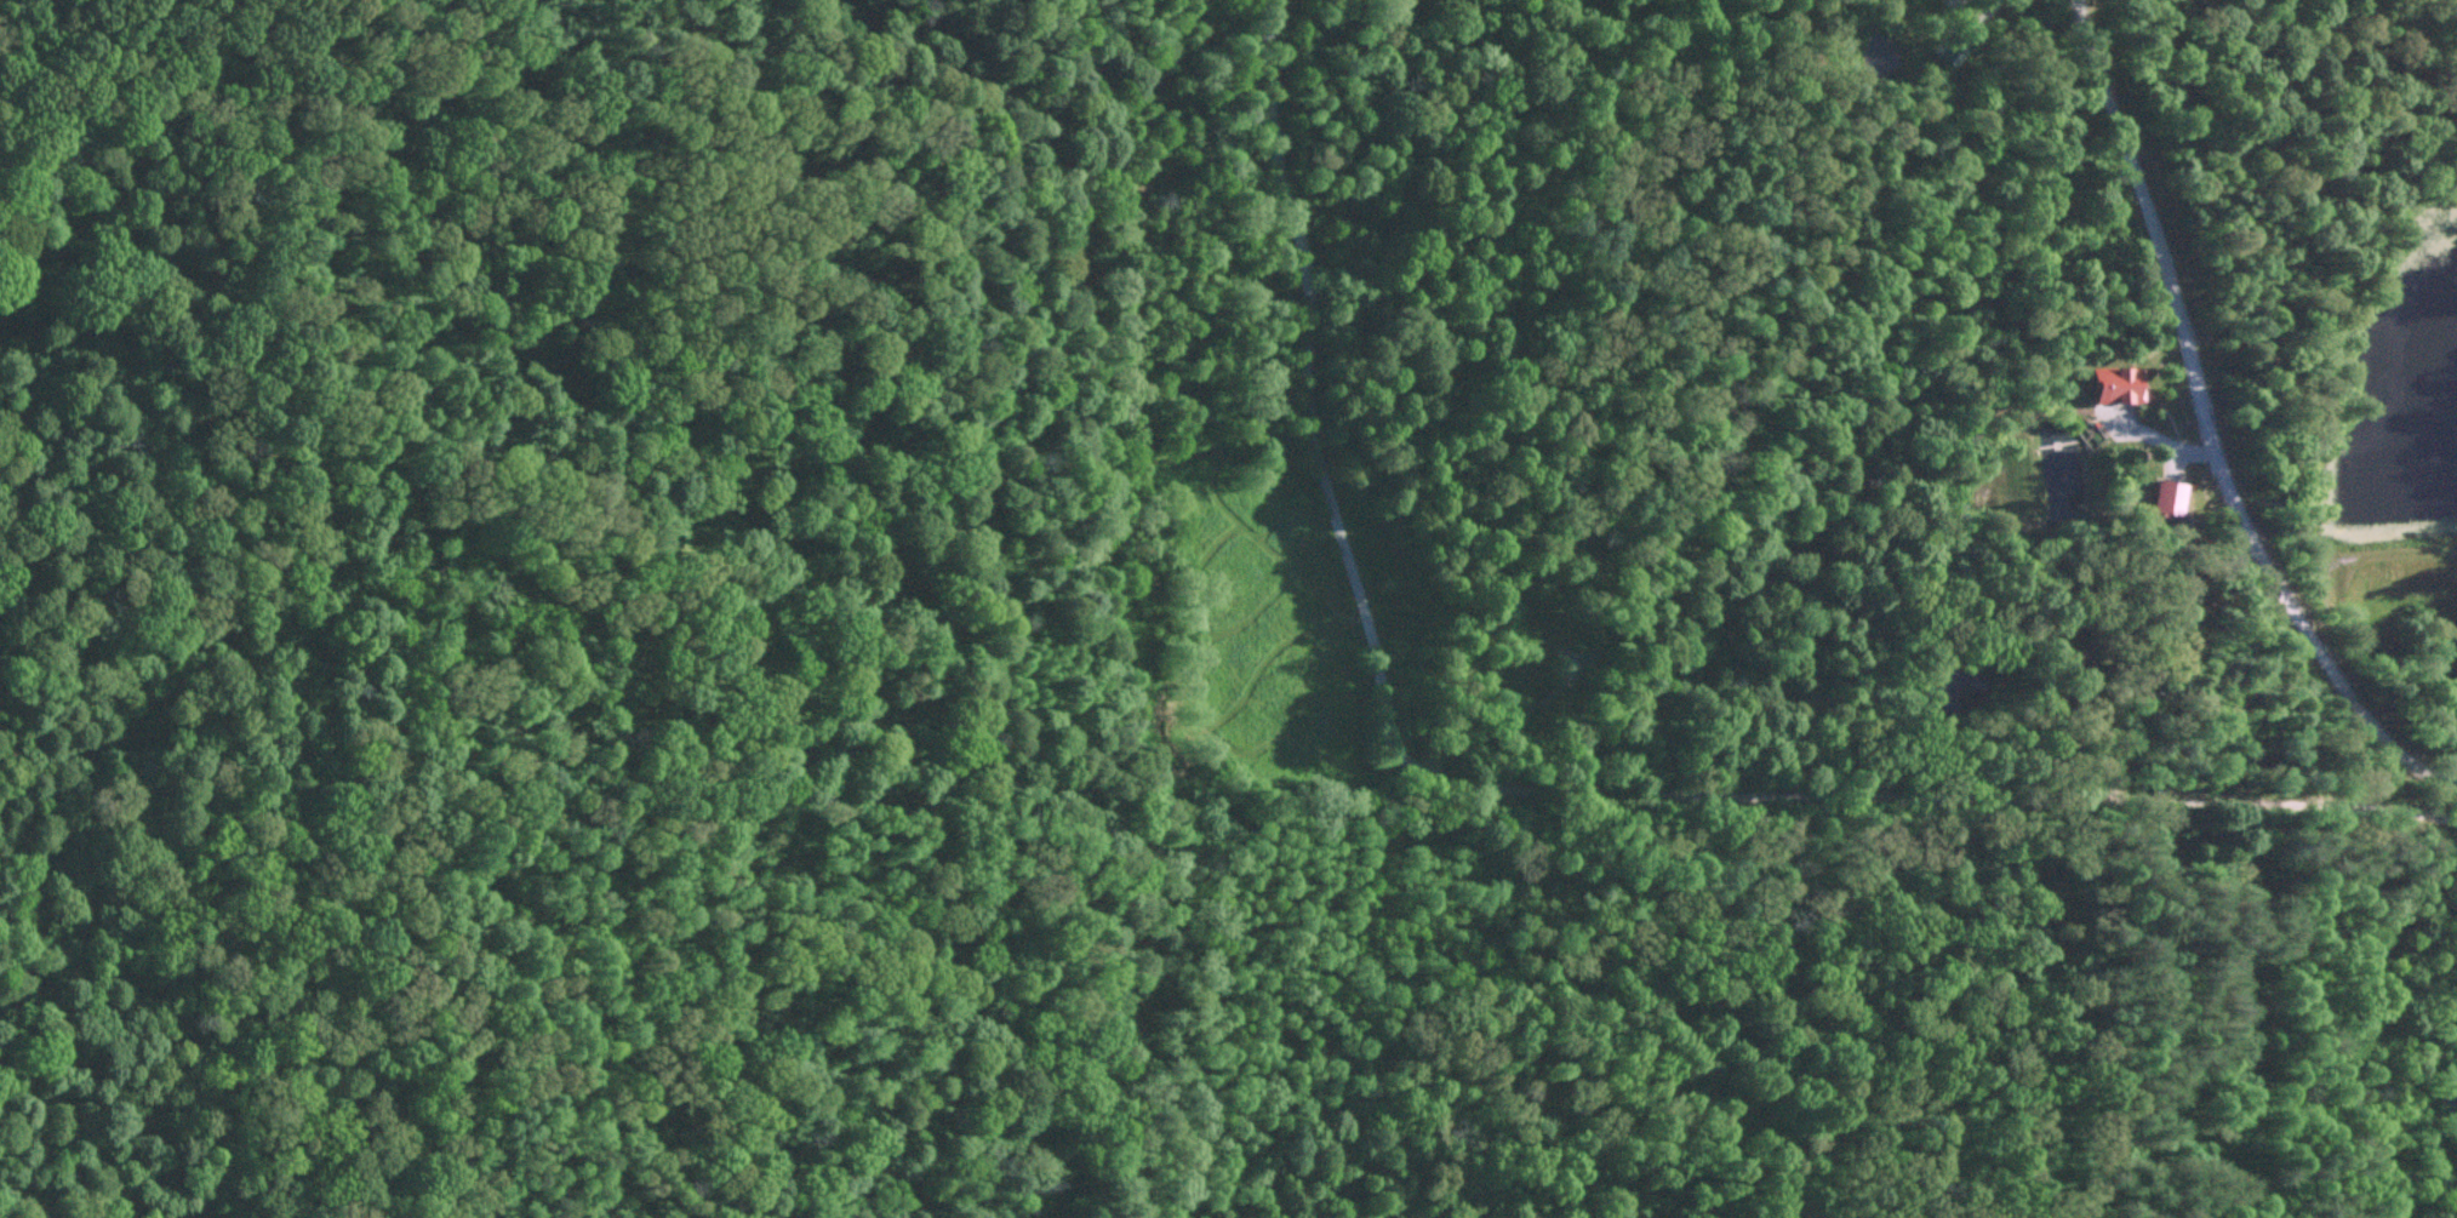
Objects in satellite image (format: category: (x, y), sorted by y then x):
building: (1948, 56)
building: (2112, 385)
road: (2209, 424)
building: (2165, 498)
road: (1539, 805)
road: (975, 1008)
road: (2285, 1134)
road: (2430, 1138)

